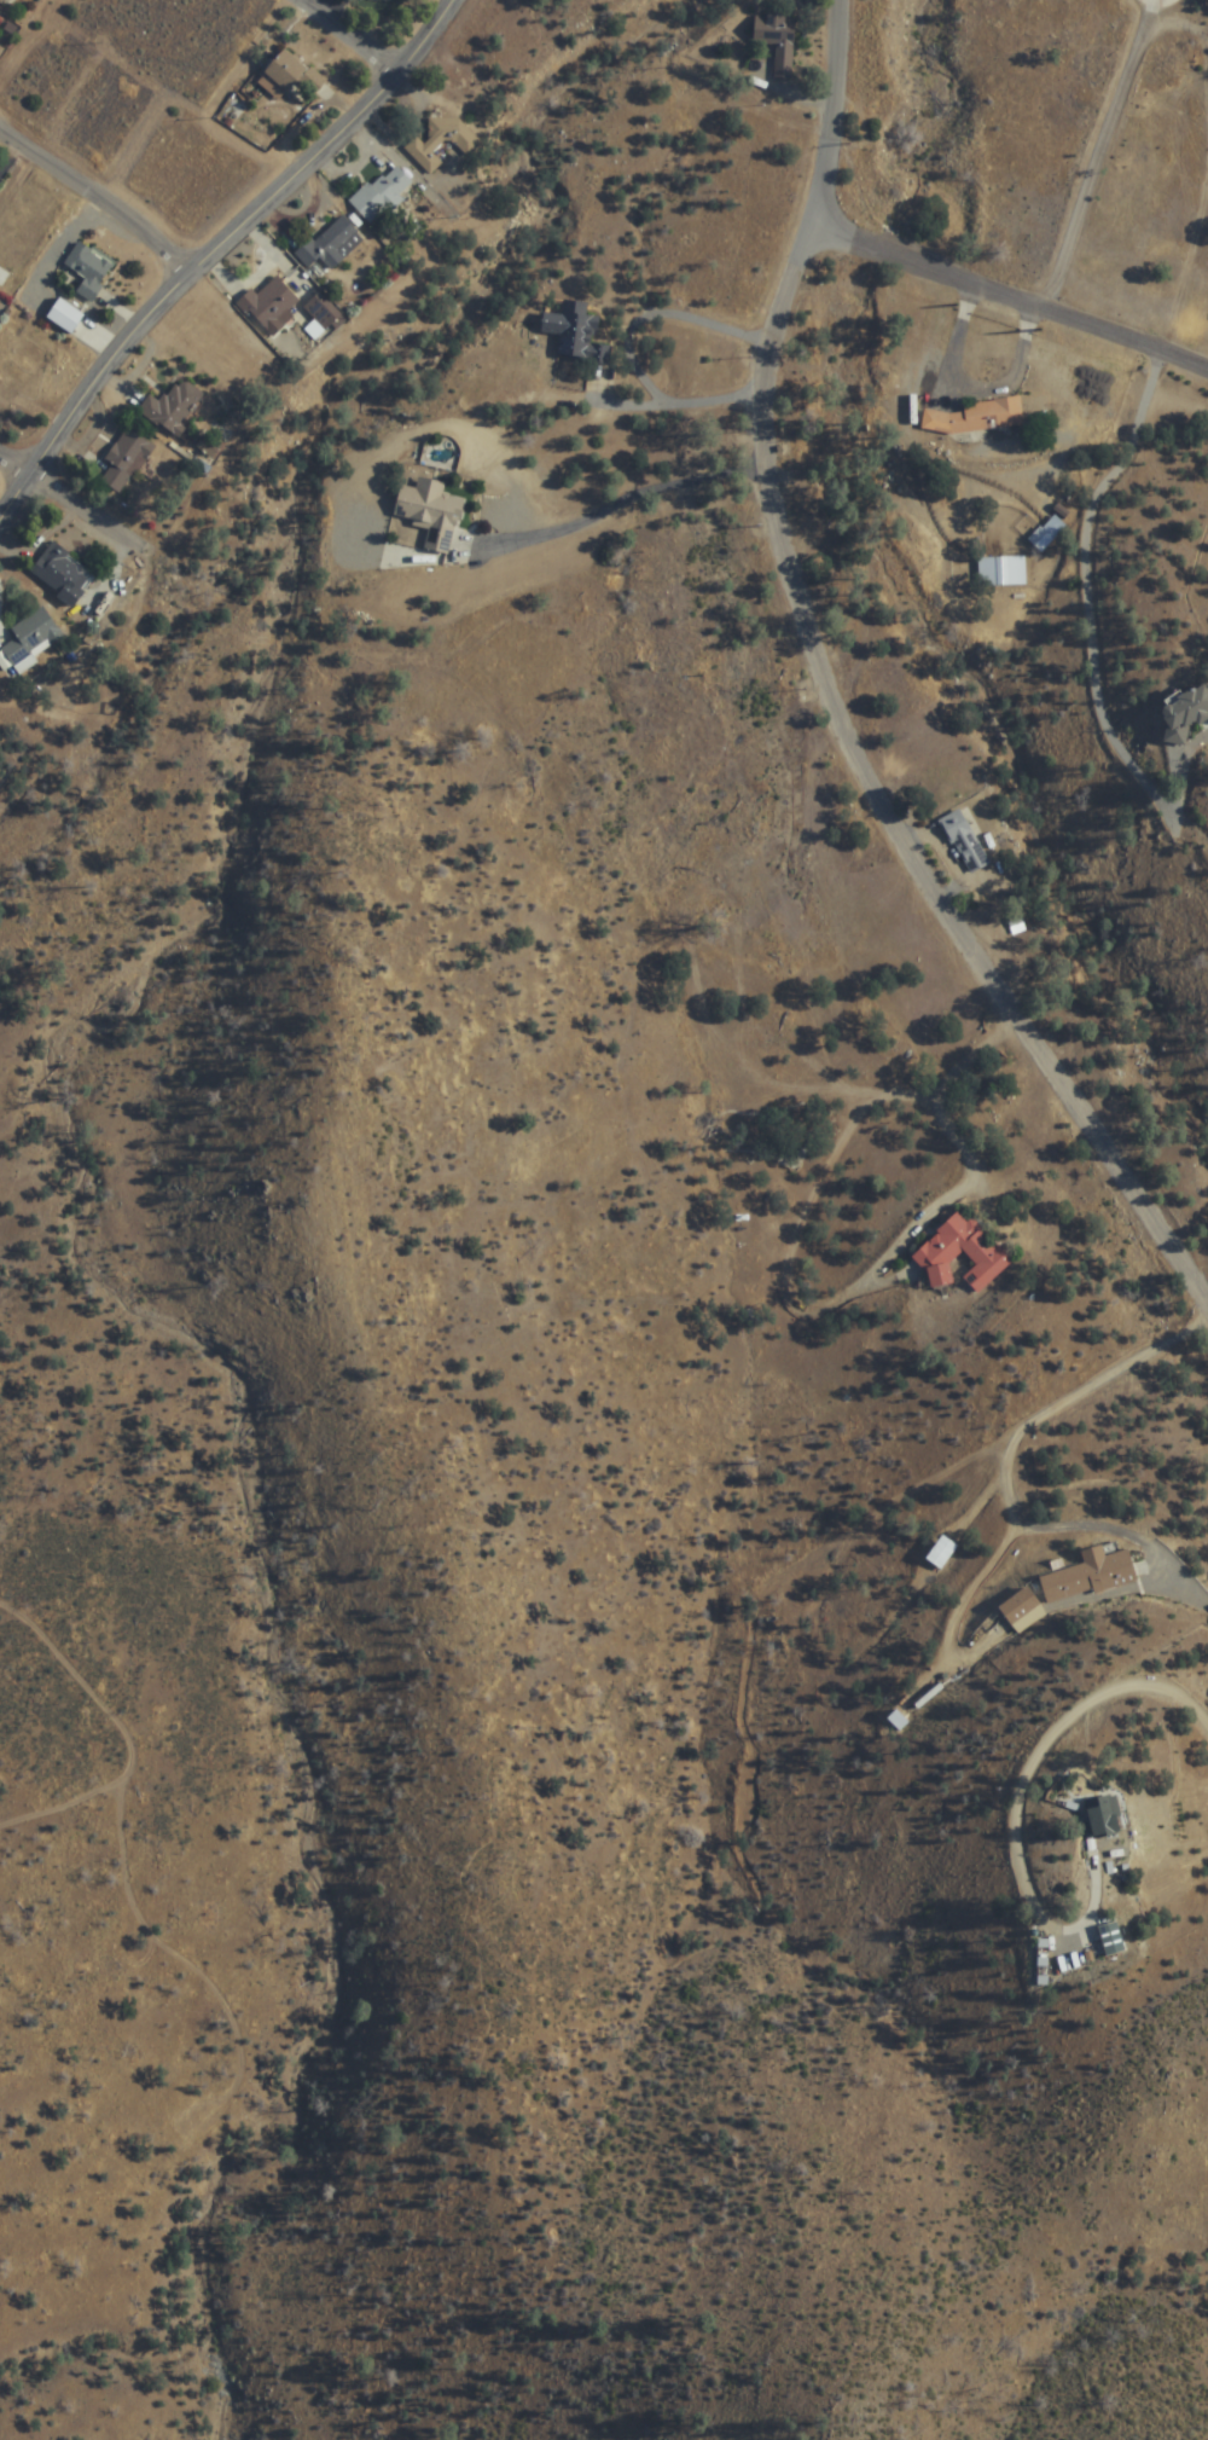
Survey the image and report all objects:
building: (0, 0)
building: (384, 1)
road: (1203, 17)
road: (358, 33)
building: (777, 41)
building: (295, 76)
building: (423, 156)
building: (382, 195)
road: (100, 196)
road: (1198, 198)
building: (330, 247)
road: (216, 250)
building: (88, 269)
road: (1014, 295)
building: (269, 305)
building: (323, 311)
building: (575, 334)
building: (19, 369)
building: (173, 406)
building: (976, 417)
building: (126, 459)
road: (65, 492)
building: (430, 514)
building: (1047, 535)
building: (63, 574)
building: (33, 638)
road: (835, 690)
building: (1185, 713)
building: (964, 841)
building: (936, 1251)
building: (1090, 1573)
building: (1020, 1604)
building: (1103, 1815)
building: (1111, 1938)

